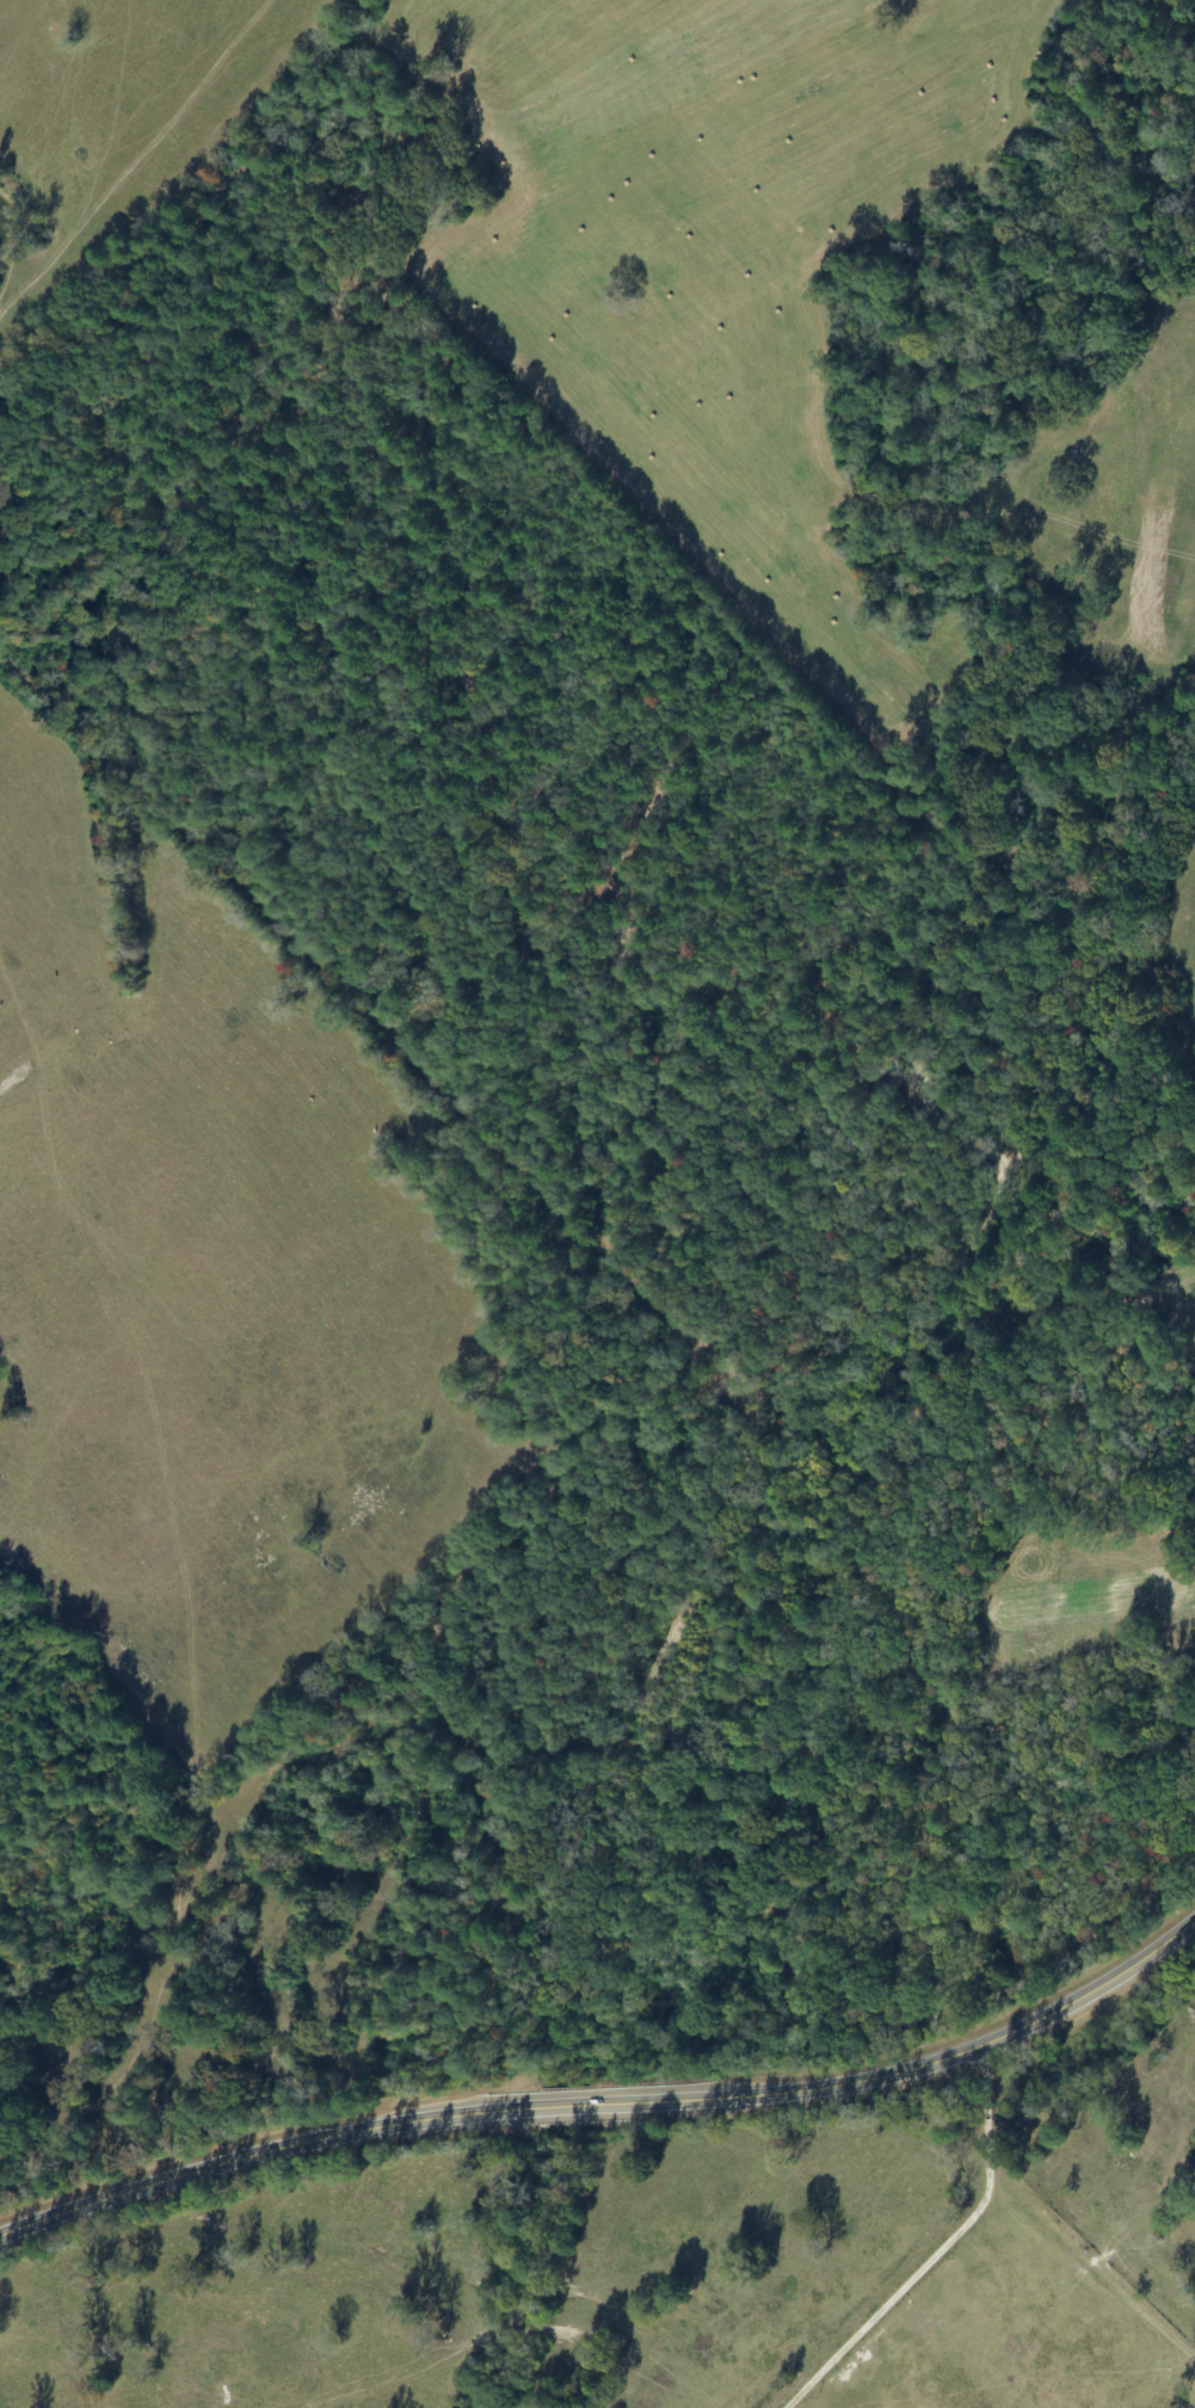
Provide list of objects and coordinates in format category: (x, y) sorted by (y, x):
road: (609, 2106)
road: (956, 2127)
road: (969, 2241)

